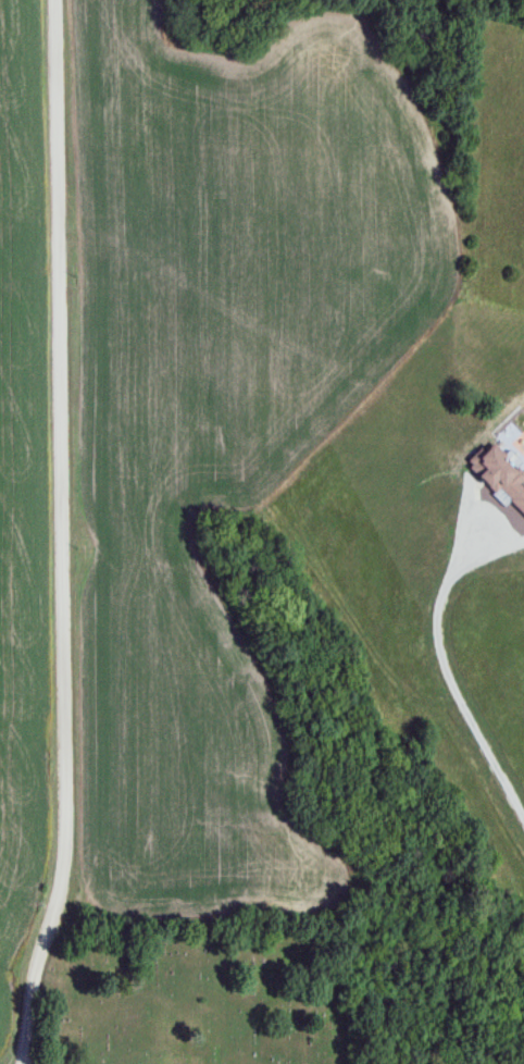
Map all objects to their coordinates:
building: (499, 475)
road: (62, 534)

